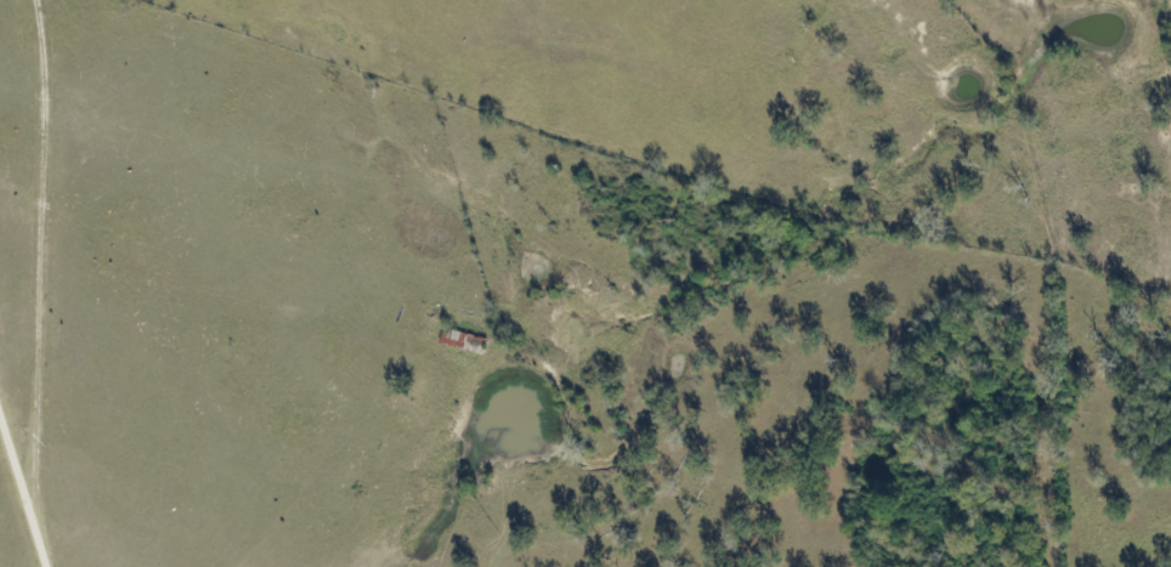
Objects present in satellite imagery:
building: (465, 341)

